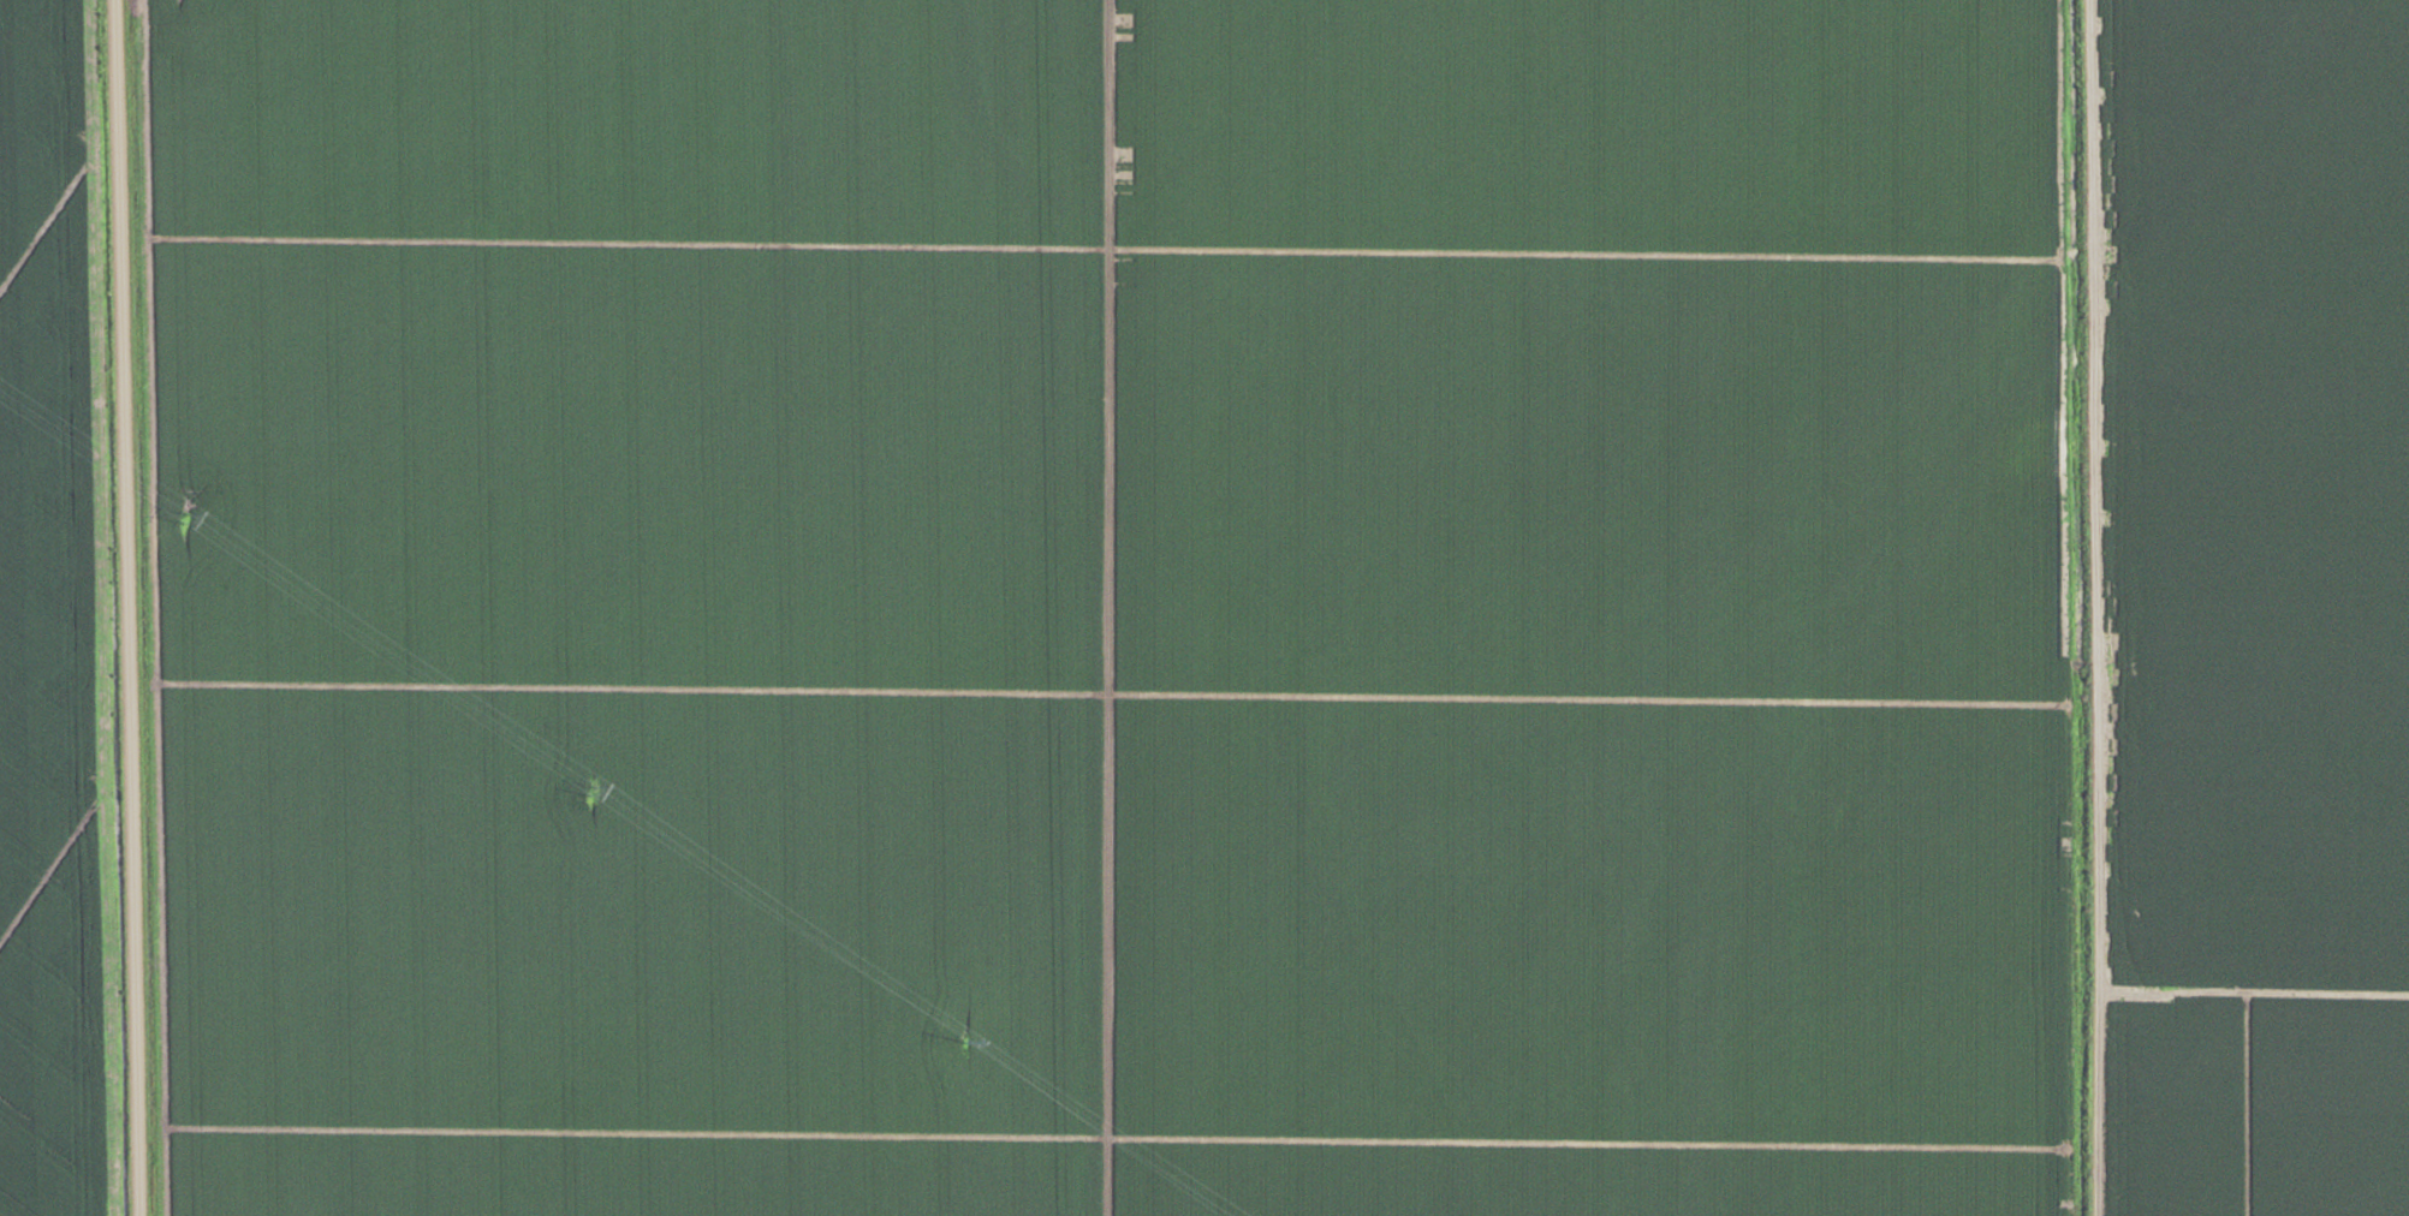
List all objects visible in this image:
power tower: (184, 519)
road: (126, 607)
power tower: (590, 785)
power tower: (959, 1031)

